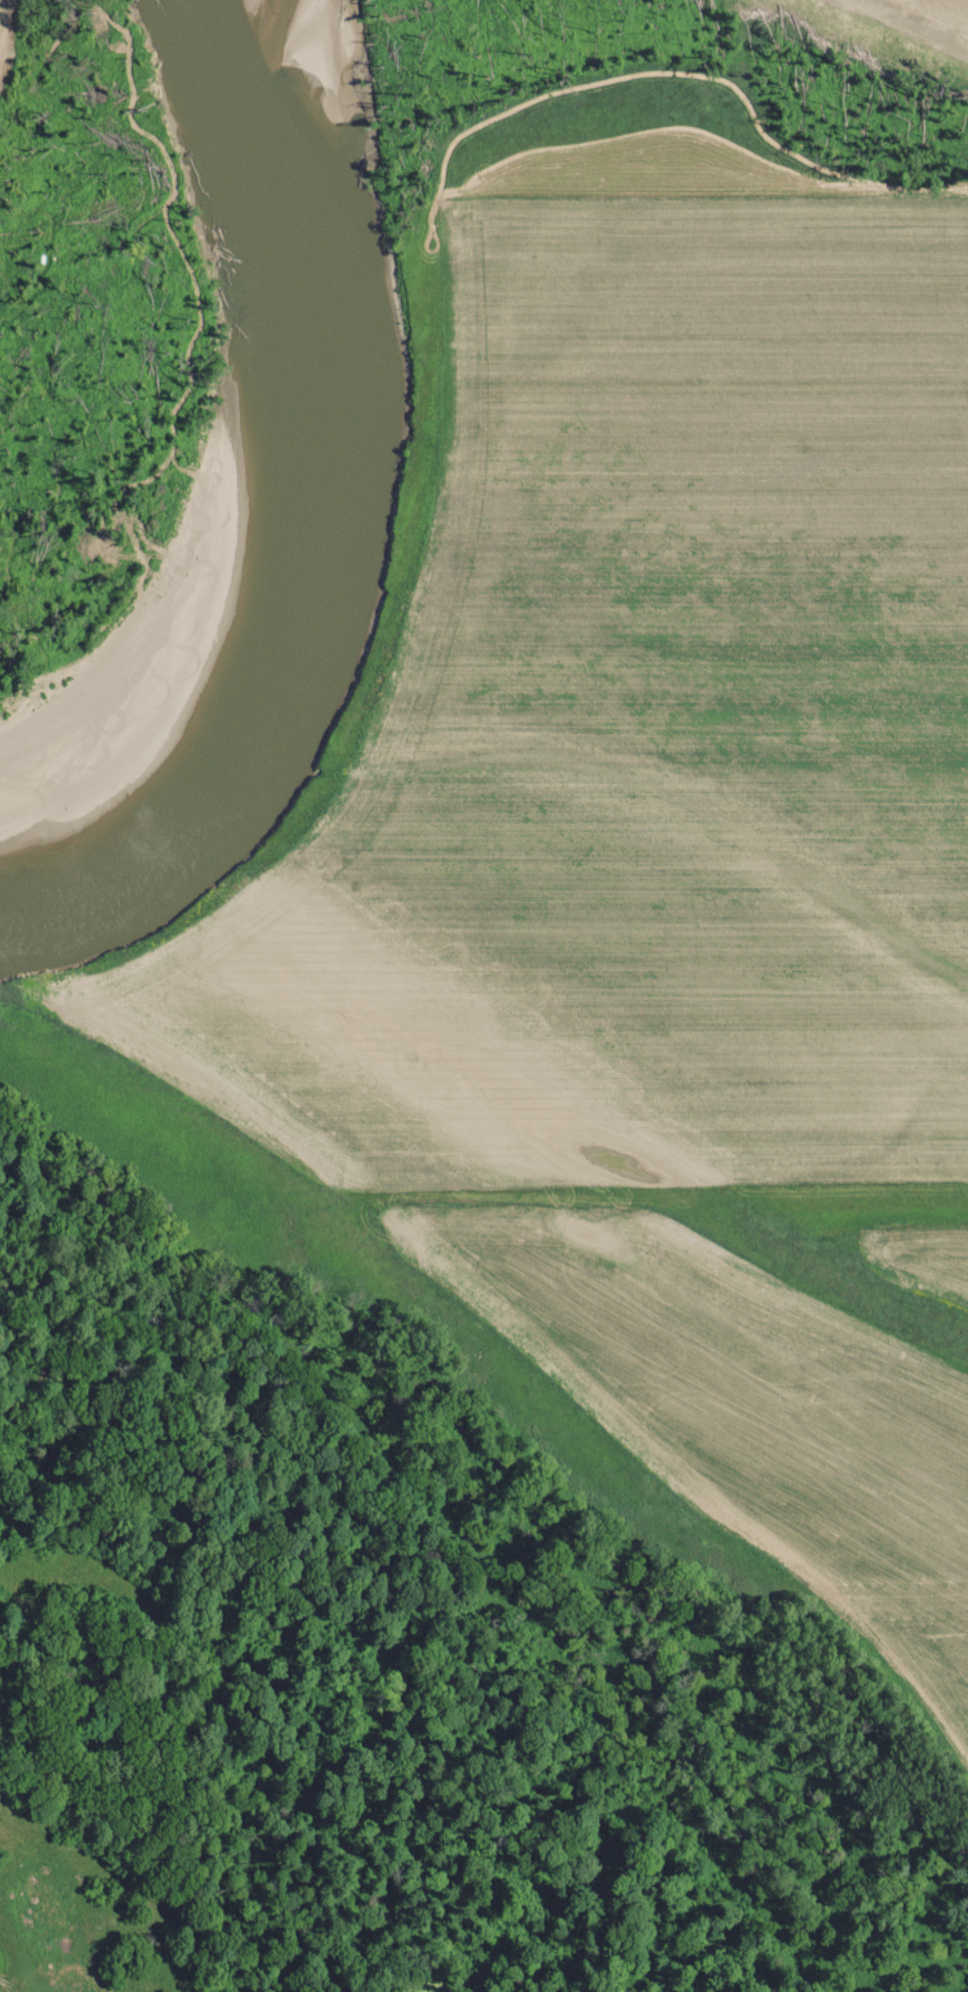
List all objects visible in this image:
river: (294, 482)

